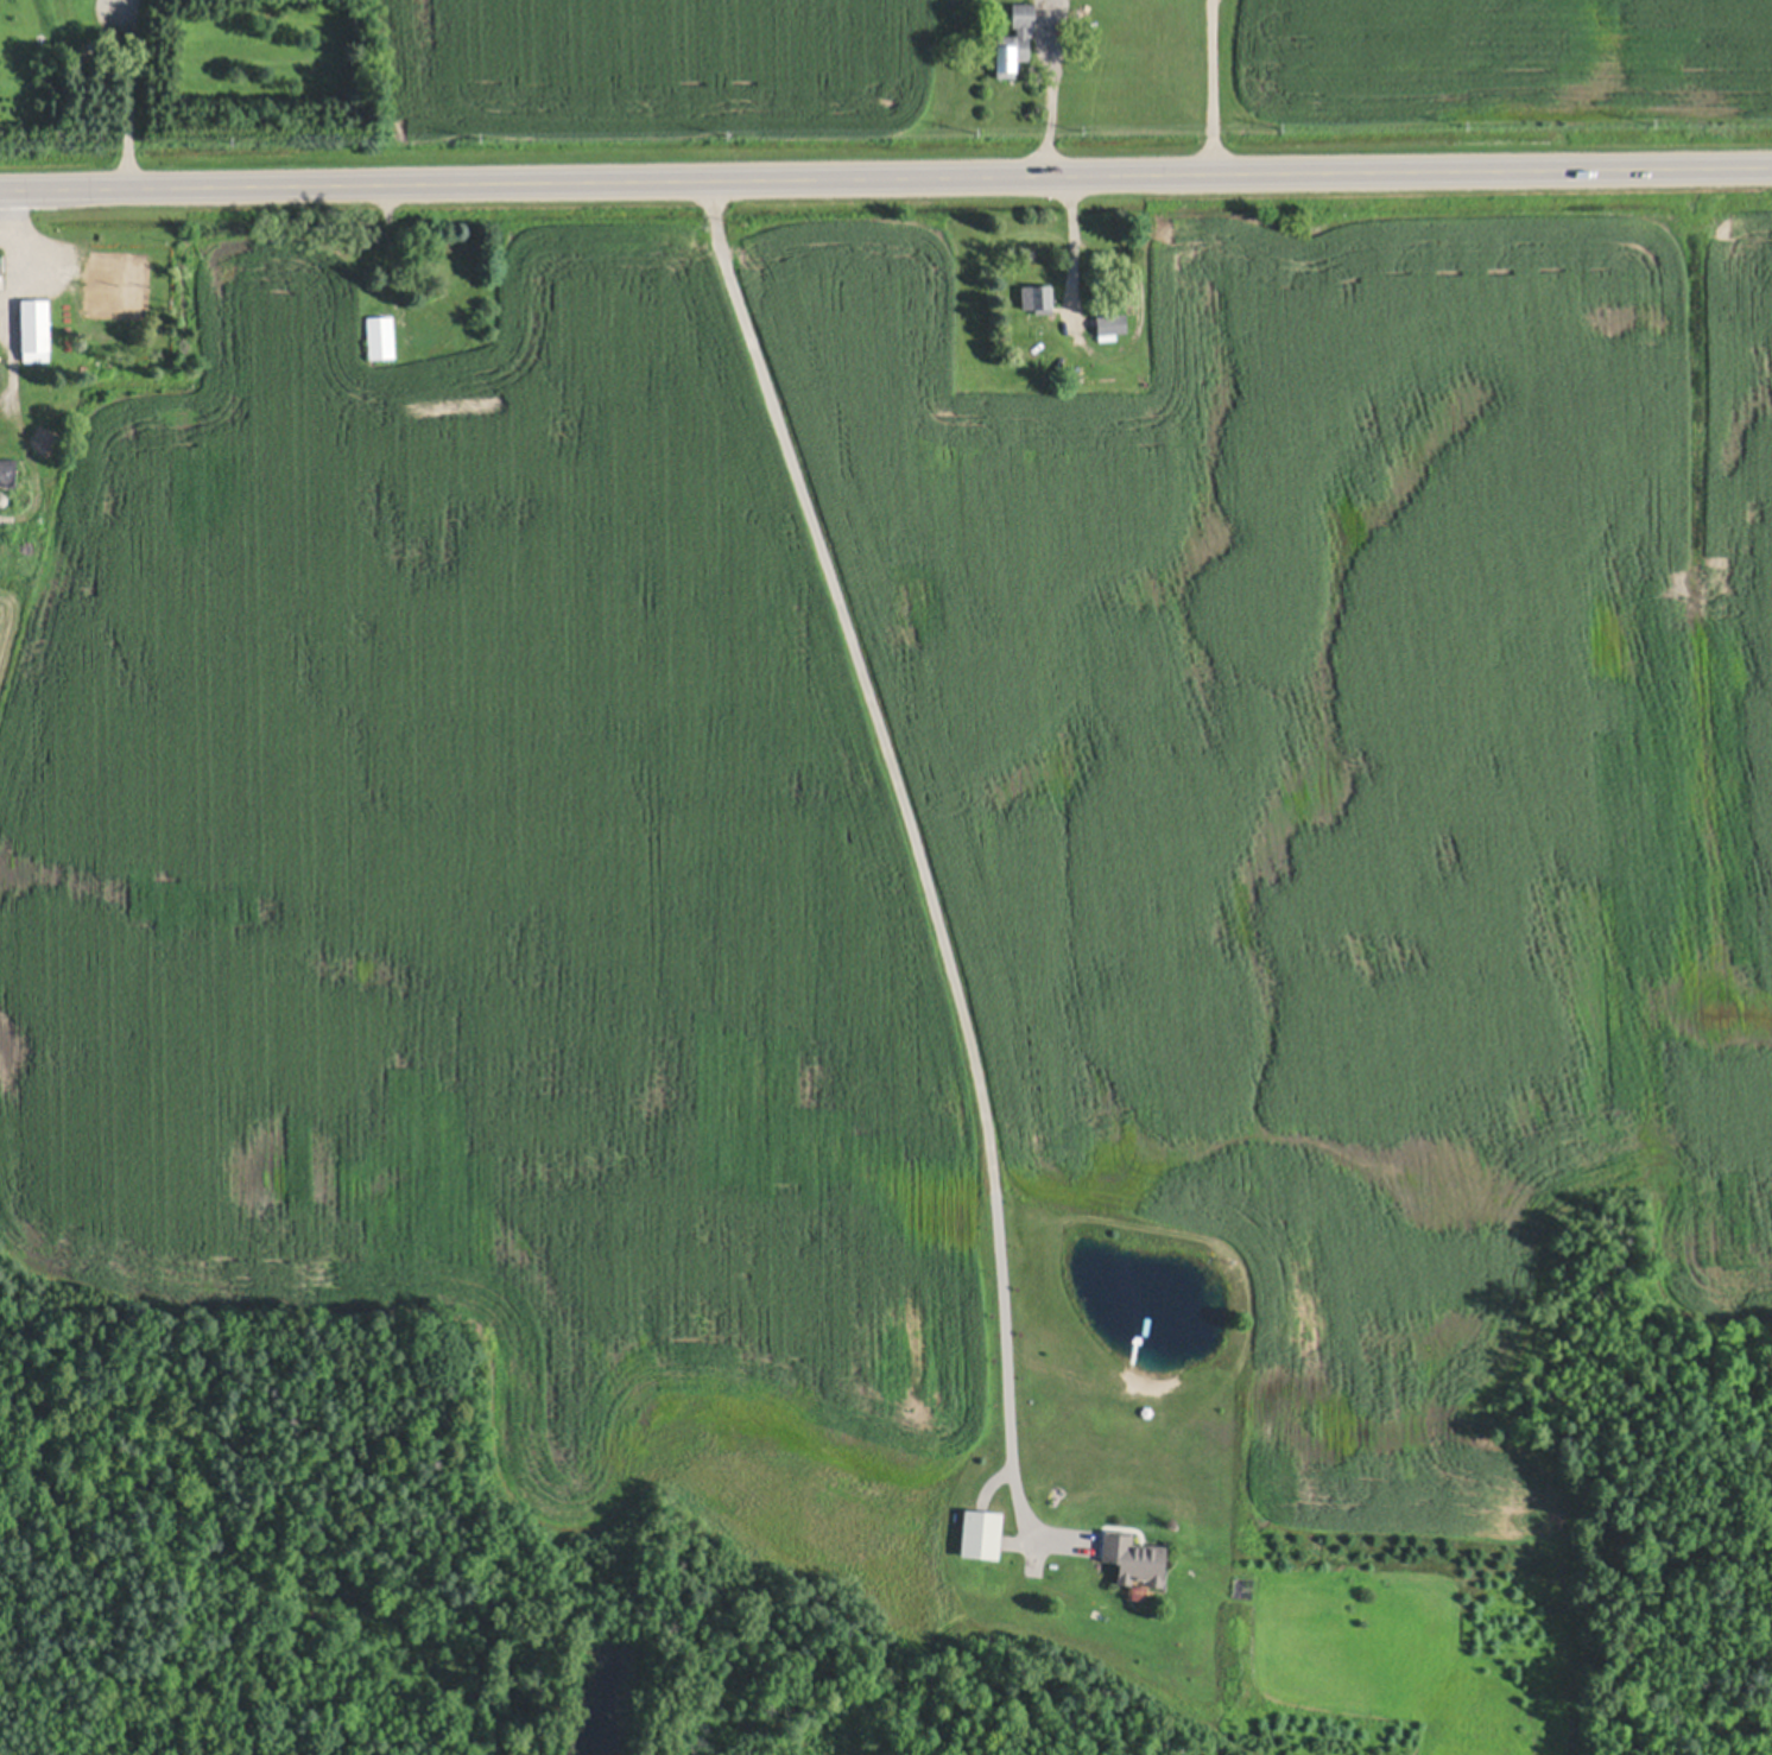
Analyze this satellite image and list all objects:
building: (1013, 38)
power tower: (1638, 119)
power tower: (1454, 122)
power tower: (1273, 123)
power tower: (962, 127)
power tower: (1075, 127)
power tower: (715, 131)
power tower: (470, 133)
power tower: (223, 138)
road: (886, 182)
building: (1037, 296)
building: (1109, 323)
building: (34, 327)
building: (380, 334)
building: (7, 469)
building: (2, 496)
road: (910, 821)
building: (980, 1531)
building: (1132, 1556)

